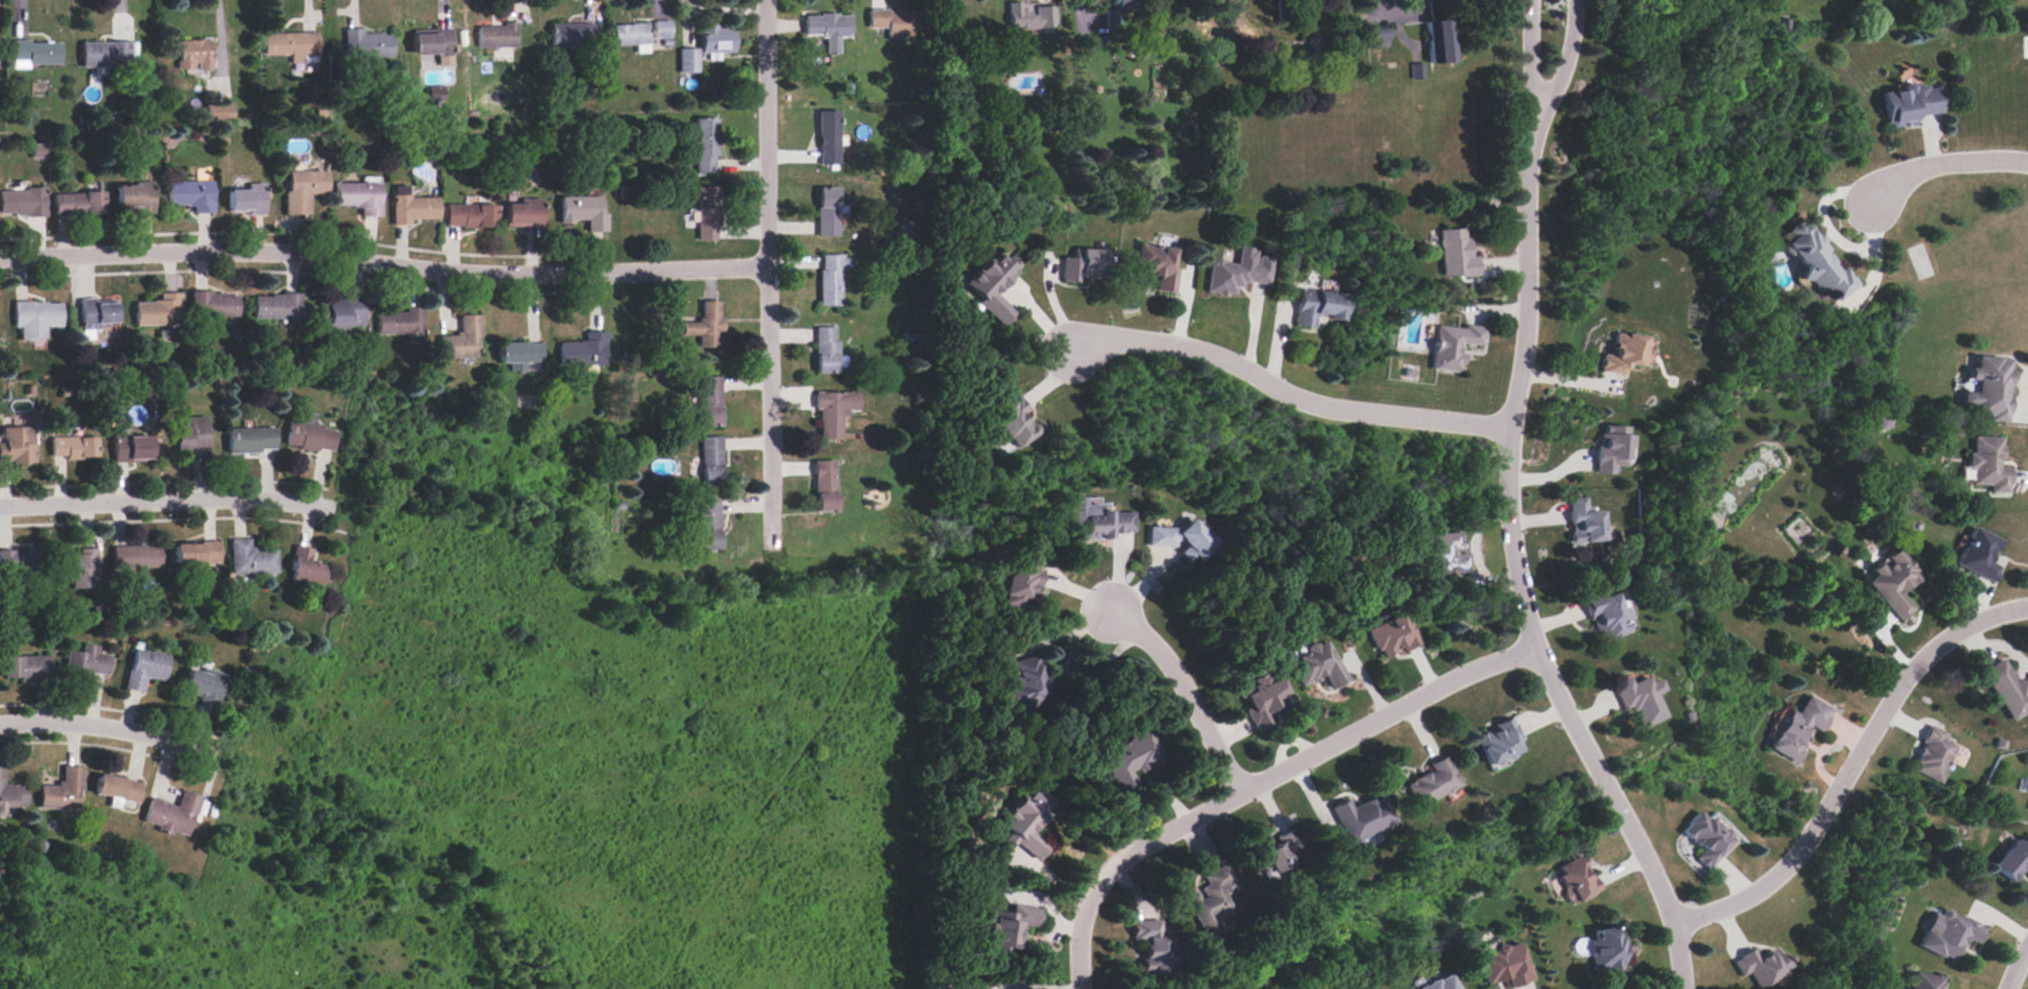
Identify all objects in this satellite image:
building: (1115, 10)
building: (1029, 16)
building: (891, 21)
building: (827, 30)
building: (661, 31)
building: (629, 33)
building: (496, 35)
building: (570, 35)
building: (1374, 35)
building: (714, 37)
building: (1436, 40)
road: (219, 41)
building: (431, 42)
building: (364, 43)
building: (290, 45)
road: (1533, 50)
building: (34, 51)
road: (1567, 51)
building: (101, 52)
building: (192, 54)
building: (687, 60)
building: (1415, 70)
building: (436, 93)
building: (1912, 103)
building: (217, 114)
building: (829, 139)
building: (706, 147)
building: (37, 150)
road: (1945, 164)
building: (301, 190)
building: (190, 196)
building: (357, 197)
building: (133, 198)
building: (244, 201)
building: (21, 203)
building: (78, 204)
building: (413, 210)
building: (582, 212)
building: (828, 213)
building: (521, 214)
building: (708, 214)
building: (470, 216)
building: (1456, 254)
building: (1817, 261)
road: (384, 264)
building: (1084, 265)
building: (1157, 265)
building: (1238, 272)
road: (770, 273)
building: (830, 281)
building: (993, 285)
building: (214, 305)
building: (276, 307)
building: (1317, 307)
building: (160, 311)
building: (340, 313)
building: (97, 314)
building: (35, 319)
building: (400, 322)
building: (706, 326)
building: (461, 341)
building: (1452, 346)
building: (584, 351)
building: (827, 351)
building: (519, 353)
building: (1622, 354)
building: (1989, 389)
road: (1287, 392)
building: (709, 402)
building: (831, 413)
building: (1015, 422)
building: (307, 434)
building: (190, 436)
building: (250, 440)
building: (17, 445)
building: (73, 448)
building: (130, 449)
building: (1612, 449)
building: (711, 462)
building: (1988, 465)
building: (823, 485)
road: (166, 500)
building: (1099, 520)
building: (1584, 522)
building: (704, 525)
road: (1474, 538)
building: (1180, 539)
building: (1448, 554)
building: (196, 555)
building: (1980, 555)
building: (136, 558)
building: (250, 558)
road: (1517, 559)
building: (22, 565)
building: (304, 568)
building: (78, 569)
building: (1020, 584)
road: (1490, 584)
building: (1894, 584)
building: (1608, 617)
road: (1064, 632)
building: (1392, 637)
building: (84, 664)
building: (1317, 666)
building: (25, 669)
building: (144, 669)
road: (1089, 673)
building: (201, 685)
building: (1023, 686)
building: (2007, 690)
road: (1191, 695)
building: (1641, 700)
building: (1264, 701)
road: (109, 728)
building: (1800, 728)
building: (1499, 743)
building: (1934, 756)
building: (1132, 758)
road: (1853, 763)
road: (1264, 782)
building: (1433, 783)
building: (117, 790)
building: (63, 791)
building: (11, 796)
building: (172, 814)
building: (1363, 819)
building: (1027, 822)
building: (1705, 840)
building: (1276, 856)
building: (2011, 861)
building: (1576, 882)
building: (1212, 903)
building: (1009, 929)
building: (1949, 934)
building: (1157, 949)
building: (1606, 949)
building: (1506, 965)
building: (1761, 966)
road: (2017, 968)
building: (1927, 982)
building: (1443, 984)

